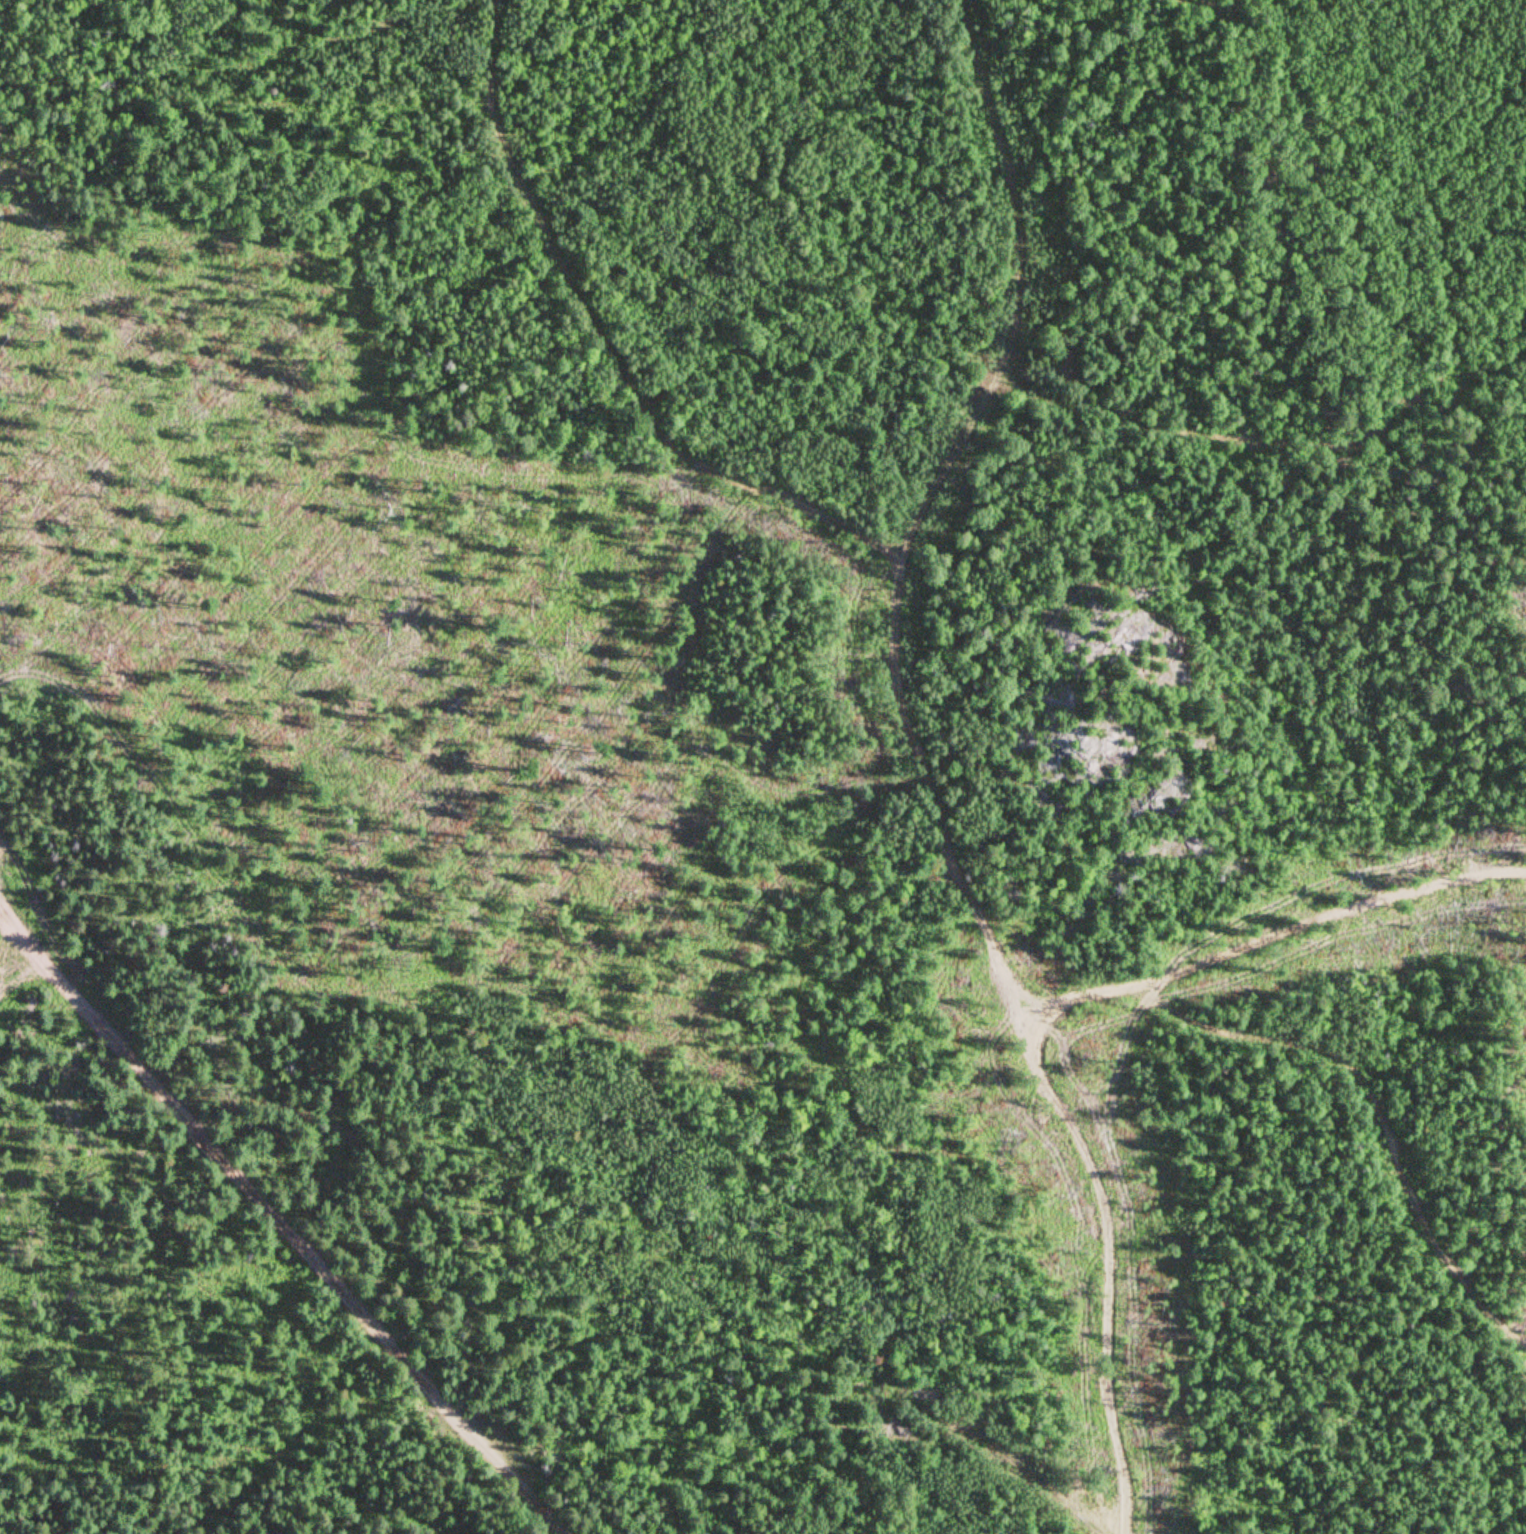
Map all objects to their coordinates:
road: (606, 348)
road: (1057, 409)
road: (907, 711)
road: (1029, 993)
road: (1053, 1032)
road: (1377, 1111)
road: (281, 1223)

